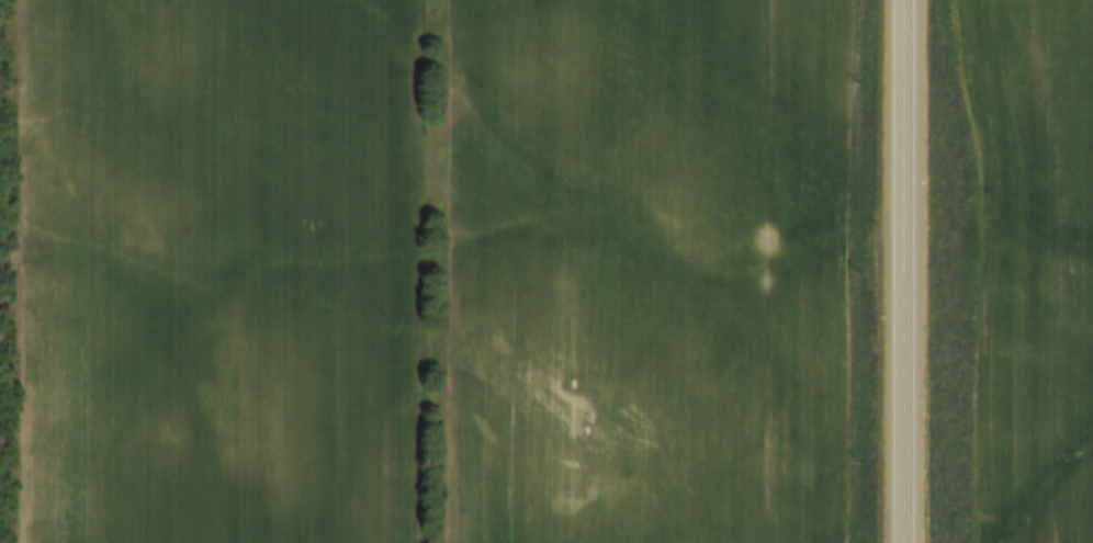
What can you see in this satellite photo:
road: (904, 271)

